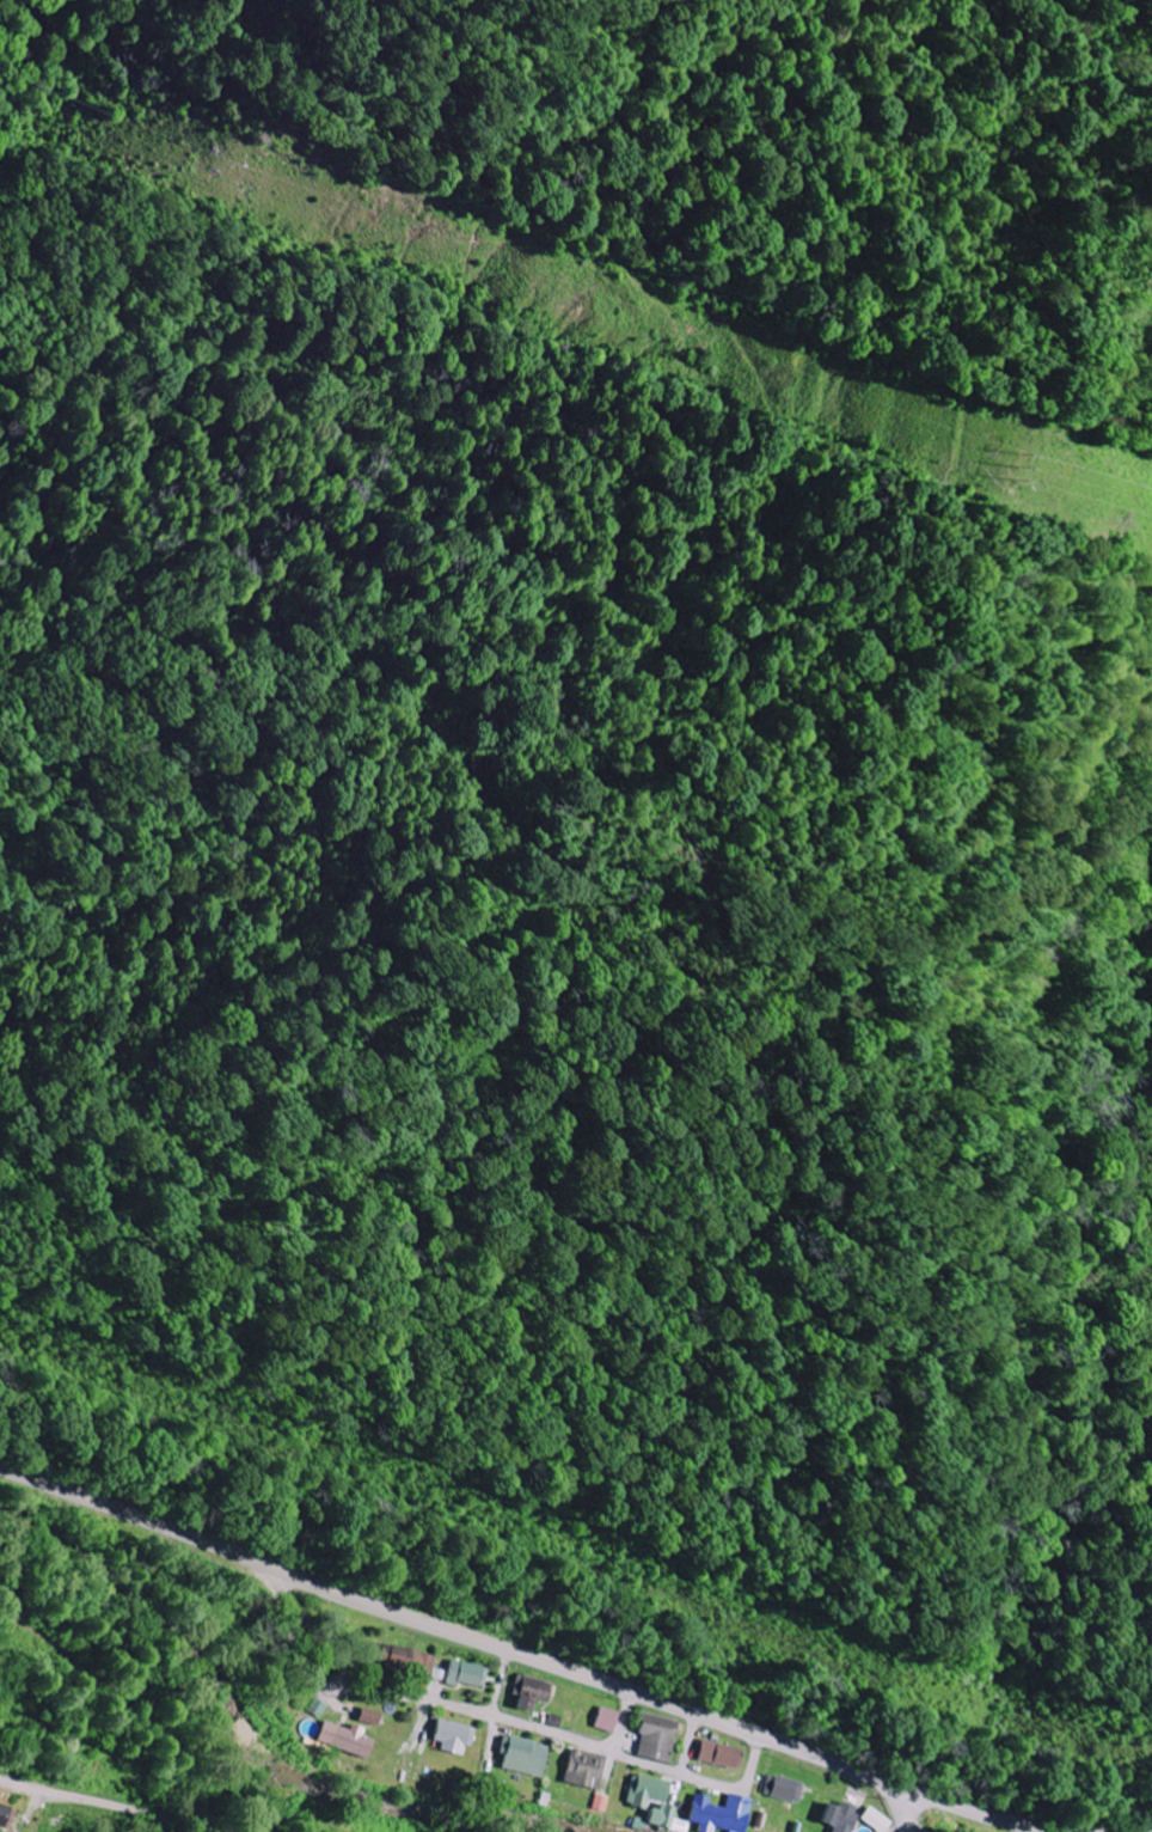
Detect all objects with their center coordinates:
road: (525, 1654)
building: (403, 1657)
building: (465, 1674)
road: (503, 1683)
building: (529, 1691)
building: (367, 1715)
road: (502, 1718)
building: (606, 1718)
road: (625, 1722)
building: (451, 1735)
building: (655, 1736)
building: (343, 1738)
road: (691, 1744)
building: (718, 1753)
building: (521, 1755)
building: (582, 1769)
building: (782, 1788)
building: (644, 1790)
building: (599, 1802)
road: (114, 1803)
road: (901, 1808)
building: (718, 1813)
building: (656, 1815)
building: (7, 1816)
building: (839, 1816)
building: (875, 1819)

